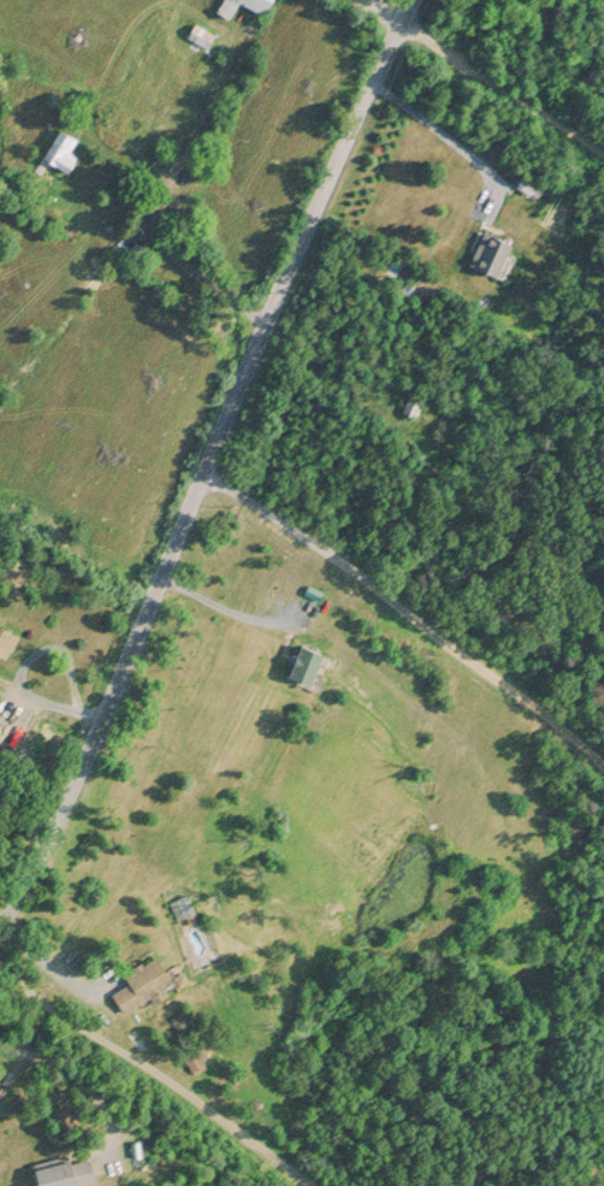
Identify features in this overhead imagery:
building: (254, 2)
building: (221, 5)
road: (389, 8)
road: (408, 8)
road: (502, 99)
road: (442, 141)
building: (55, 153)
road: (159, 201)
road: (303, 242)
building: (488, 250)
road: (405, 613)
building: (5, 639)
building: (298, 661)
road: (19, 675)
road: (109, 703)
building: (179, 903)
road: (46, 968)
building: (138, 980)
road: (158, 1072)
road: (73, 1073)
building: (58, 1169)

